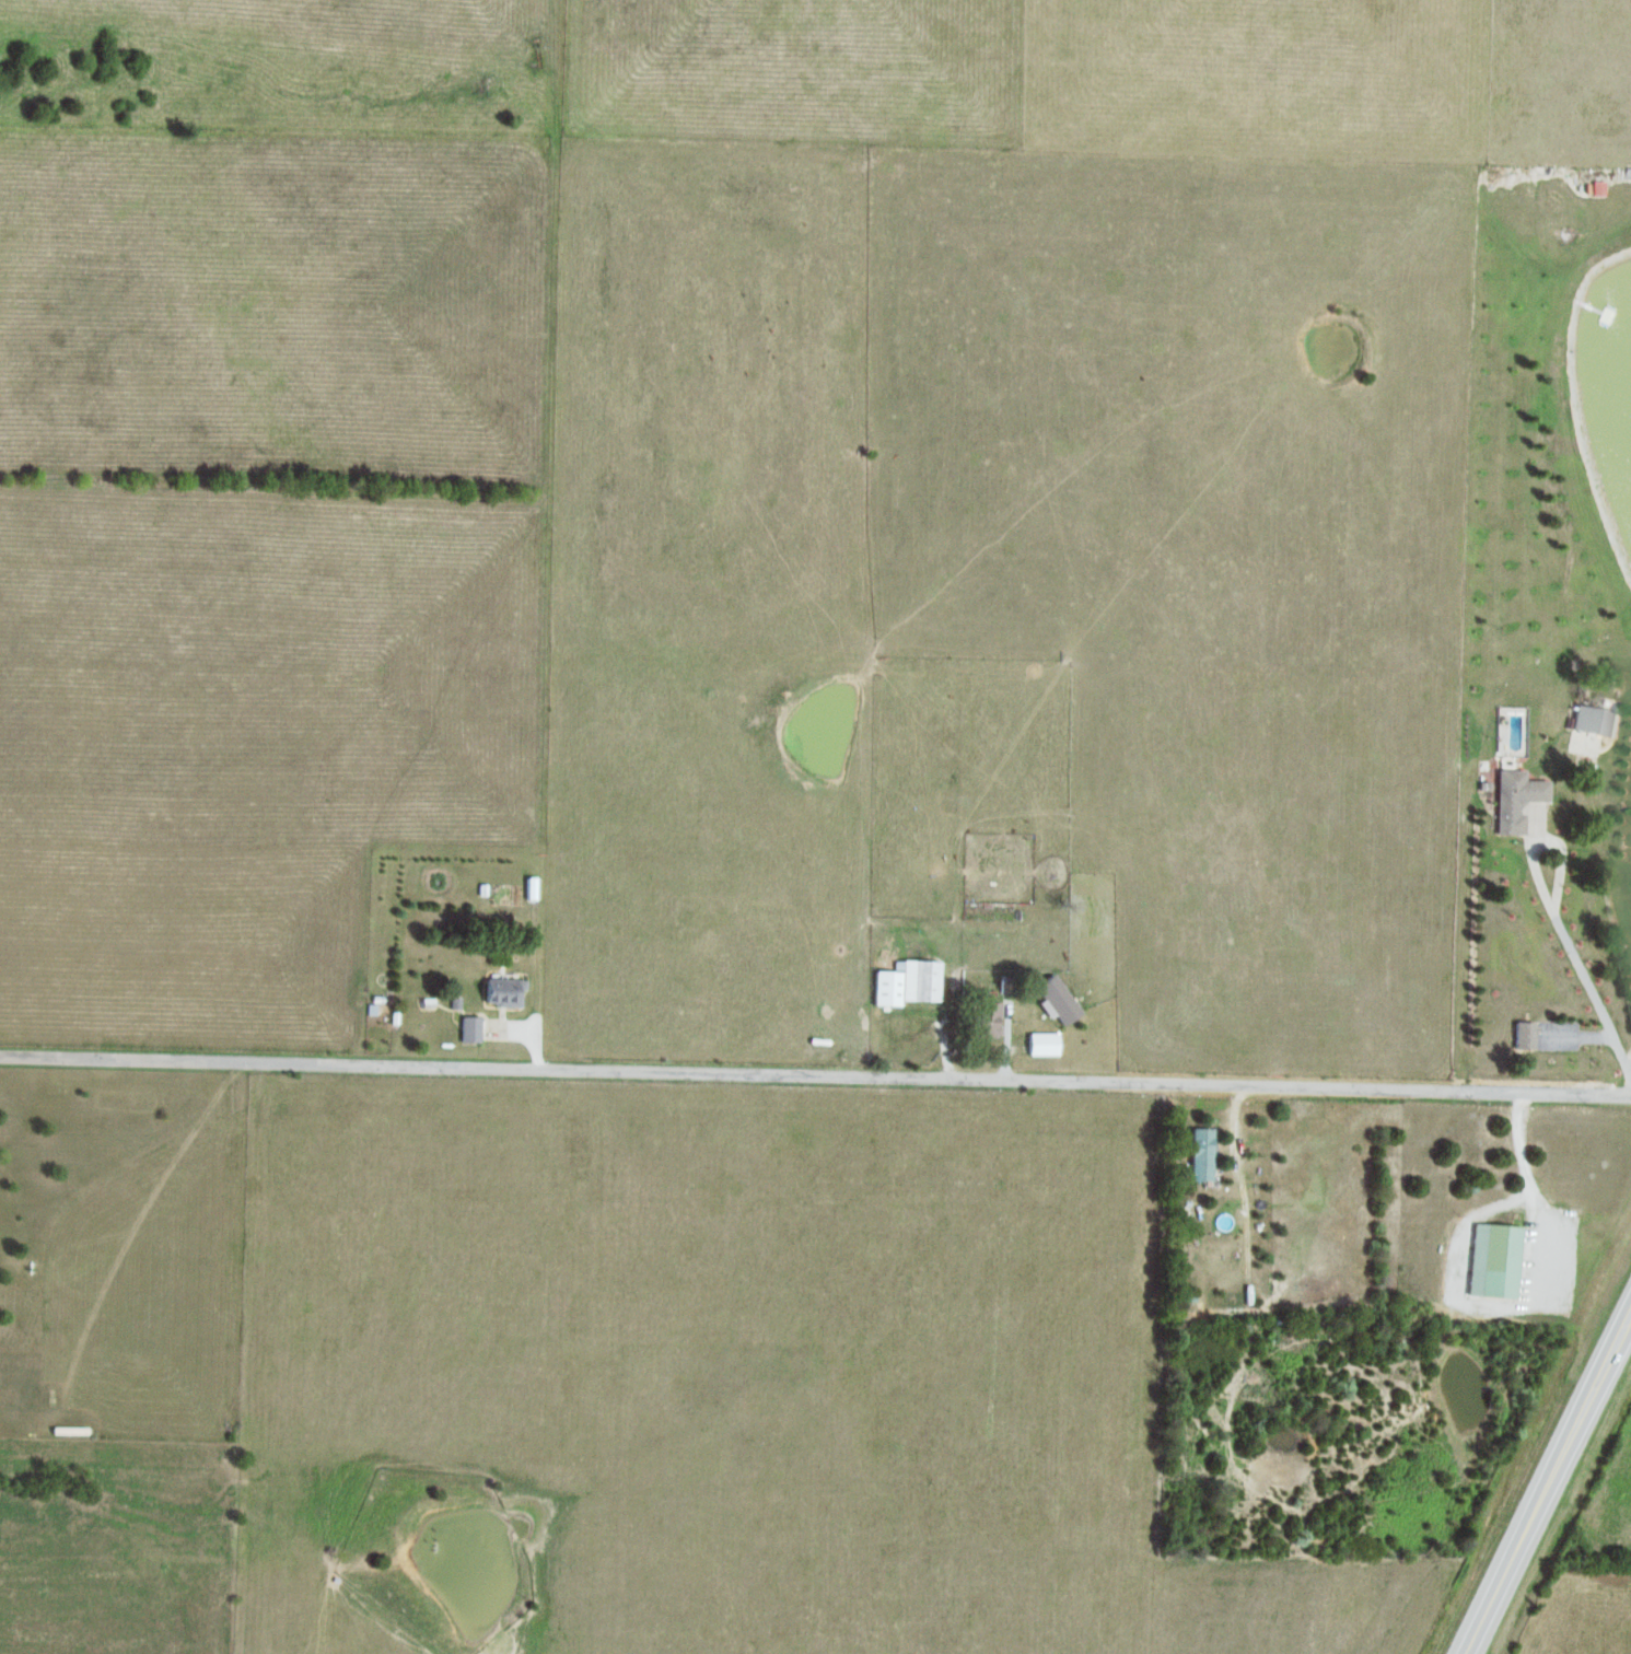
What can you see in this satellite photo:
building: (1597, 187)
building: (1595, 721)
building: (1515, 800)
road: (1581, 977)
building: (905, 983)
building: (501, 991)
building: (1053, 1000)
building: (986, 1020)
building: (468, 1029)
building: (1524, 1035)
building: (1040, 1044)
road: (758, 1076)
road: (1574, 1096)
road: (1519, 1149)
building: (1199, 1155)
road: (1242, 1215)
building: (1493, 1261)
road: (1517, 1297)
road: (1549, 1484)

